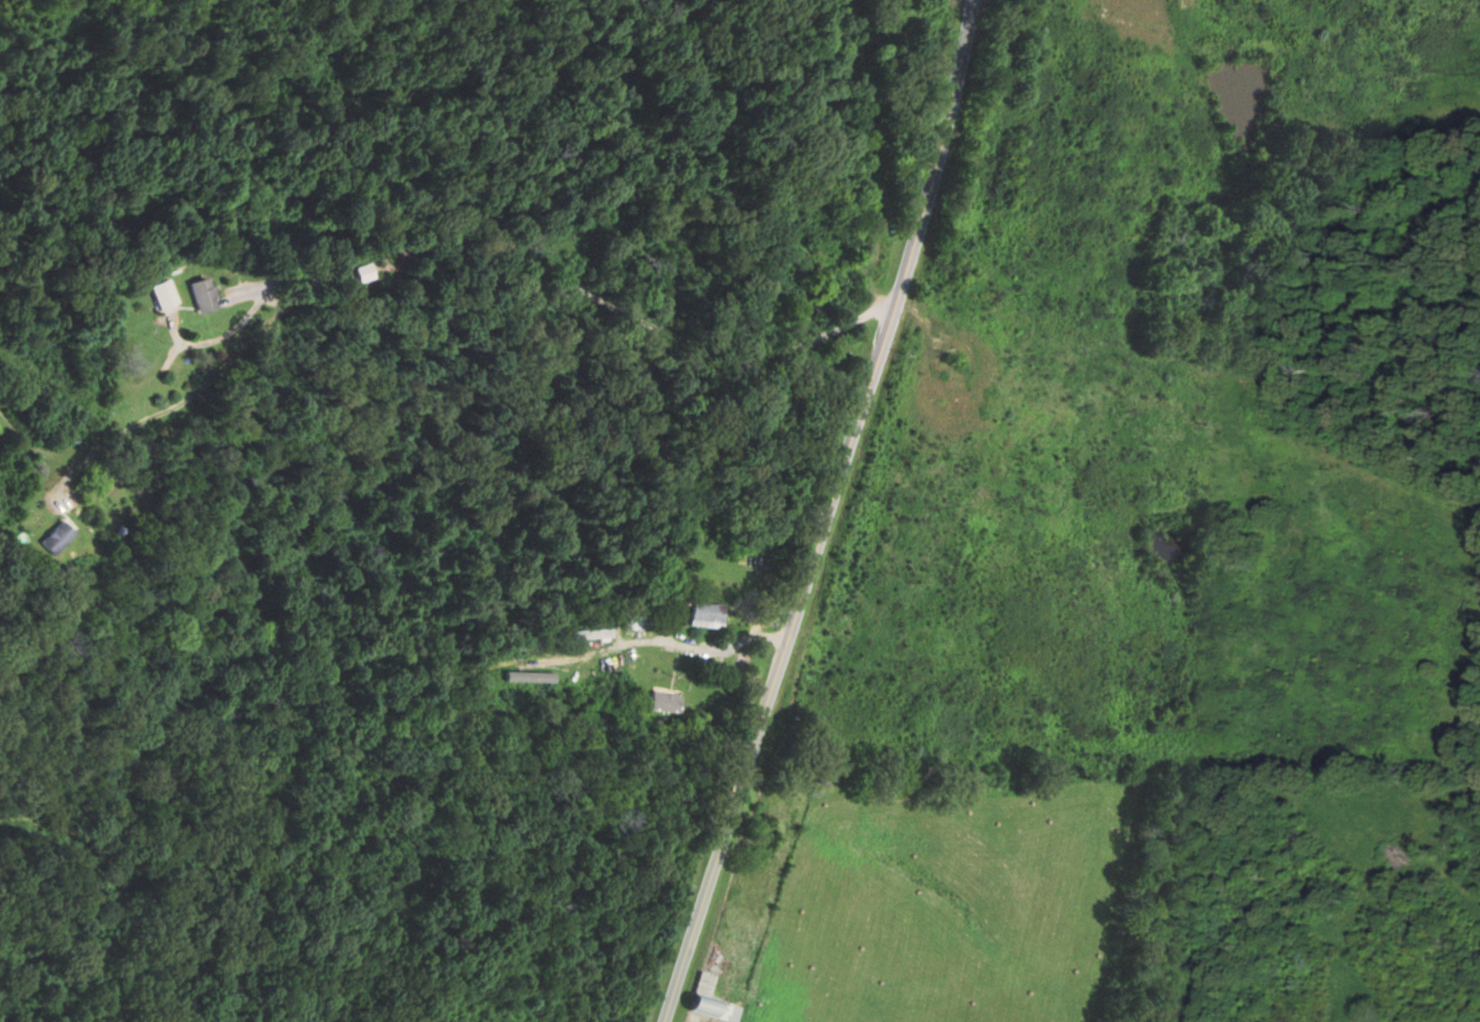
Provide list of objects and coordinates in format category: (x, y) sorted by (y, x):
building: (207, 294)
building: (168, 295)
road: (487, 305)
road: (826, 514)
building: (60, 537)
building: (709, 615)
building: (667, 702)
building: (717, 1001)

